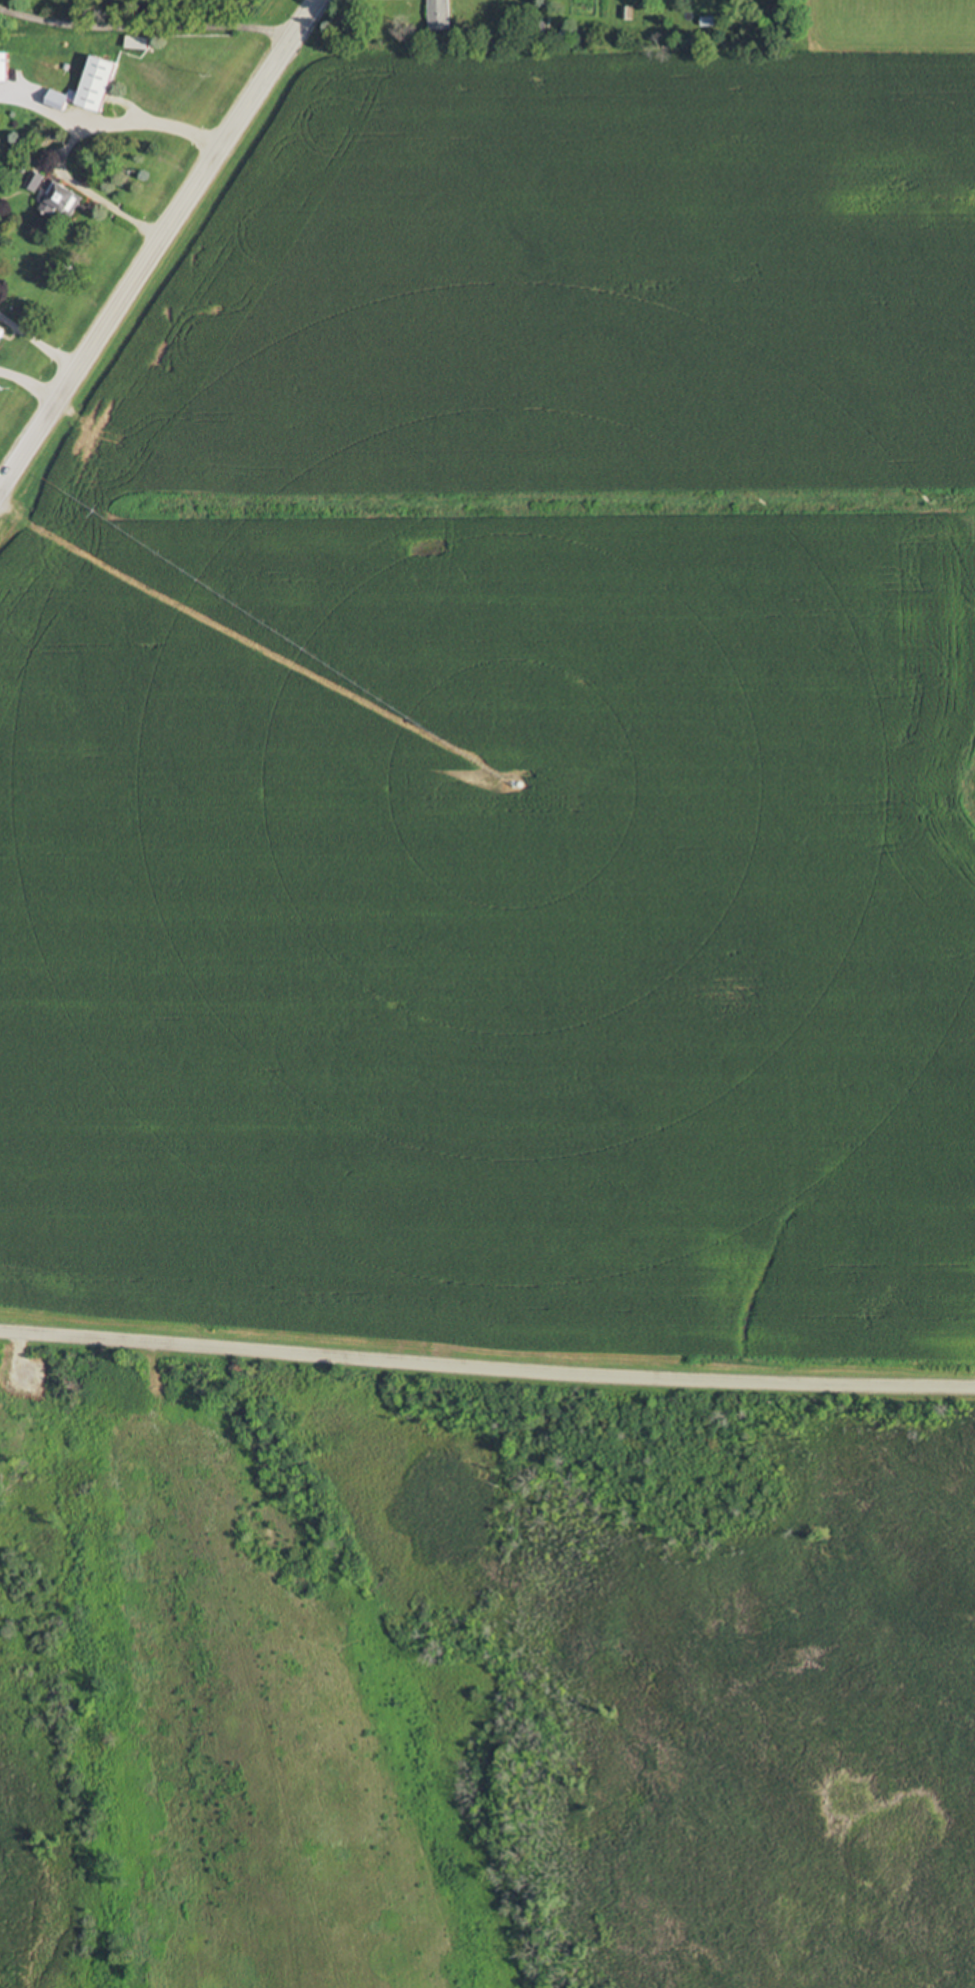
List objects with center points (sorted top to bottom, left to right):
building: (437, 14)
road: (147, 25)
building: (3, 66)
building: (87, 87)
road: (112, 119)
building: (33, 180)
road: (81, 189)
building: (60, 199)
road: (159, 246)
building: (1, 331)
road: (38, 346)
road: (31, 383)
road: (486, 1373)

